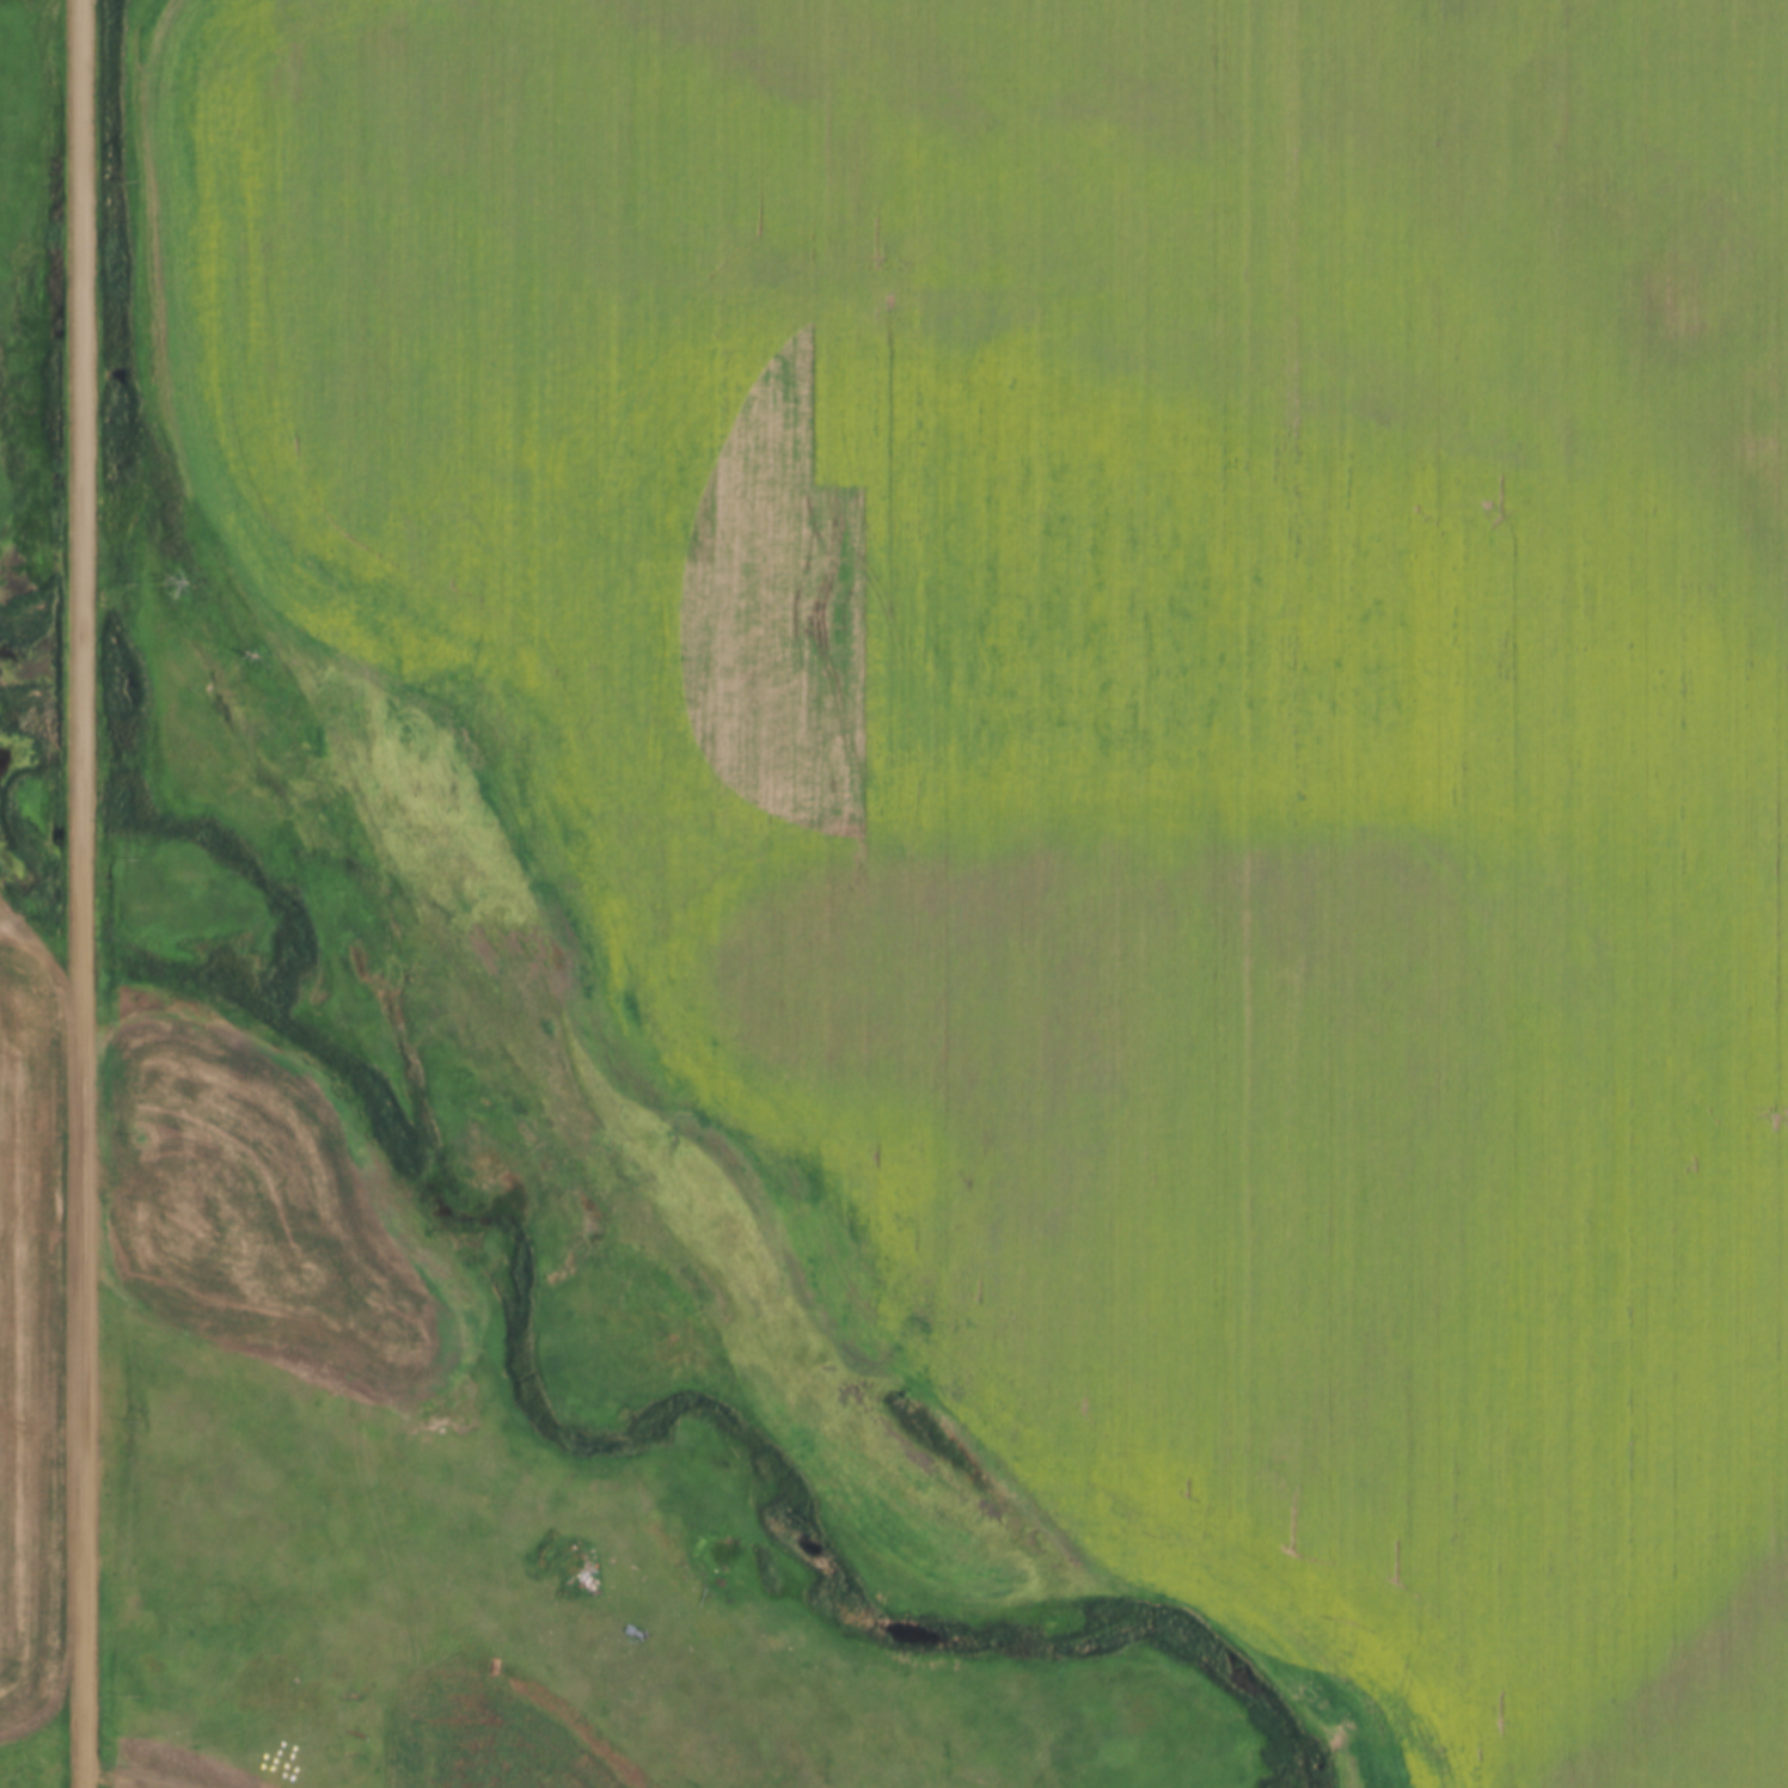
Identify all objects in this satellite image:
road: (84, 894)
road: (38, 937)

